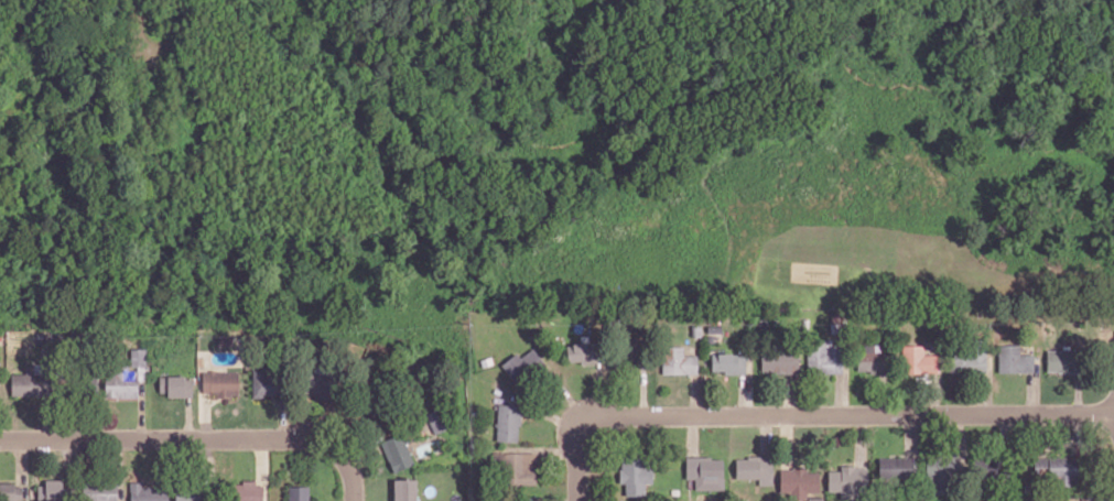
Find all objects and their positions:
building: (583, 352)
building: (138, 357)
building: (823, 357)
building: (872, 359)
building: (966, 359)
building: (1013, 359)
building: (917, 360)
building: (1061, 360)
building: (678, 361)
building: (779, 361)
building: (727, 362)
building: (522, 364)
building: (30, 382)
building: (90, 382)
building: (264, 382)
building: (121, 383)
building: (219, 383)
building: (317, 384)
building: (175, 385)
road: (853, 416)
building: (436, 421)
building: (508, 423)
road: (197, 440)
building: (397, 453)
road: (576, 456)
building: (515, 467)
building: (895, 467)
building: (992, 467)
building: (755, 468)
building: (1058, 469)
building: (705, 471)
building: (635, 473)
building: (941, 475)
building: (848, 481)
building: (798, 482)
building: (404, 490)
building: (11, 491)
building: (50, 491)
building: (99, 491)
building: (248, 491)
building: (148, 492)
building: (187, 493)
building: (299, 493)
building: (1082, 500)

